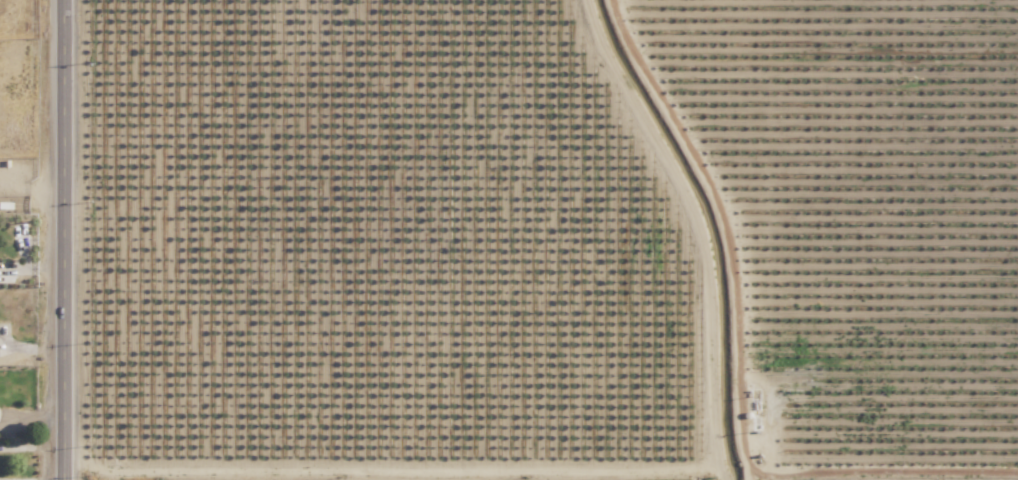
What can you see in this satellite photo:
road: (30, 199)
road: (61, 239)
road: (30, 415)

